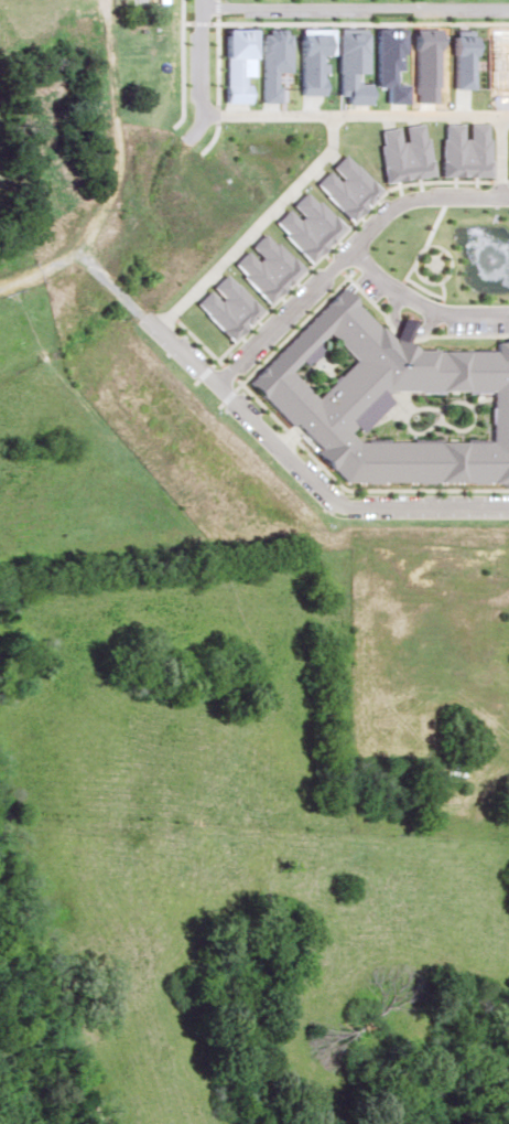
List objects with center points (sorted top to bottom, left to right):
road: (273, 23)
building: (139, 46)

